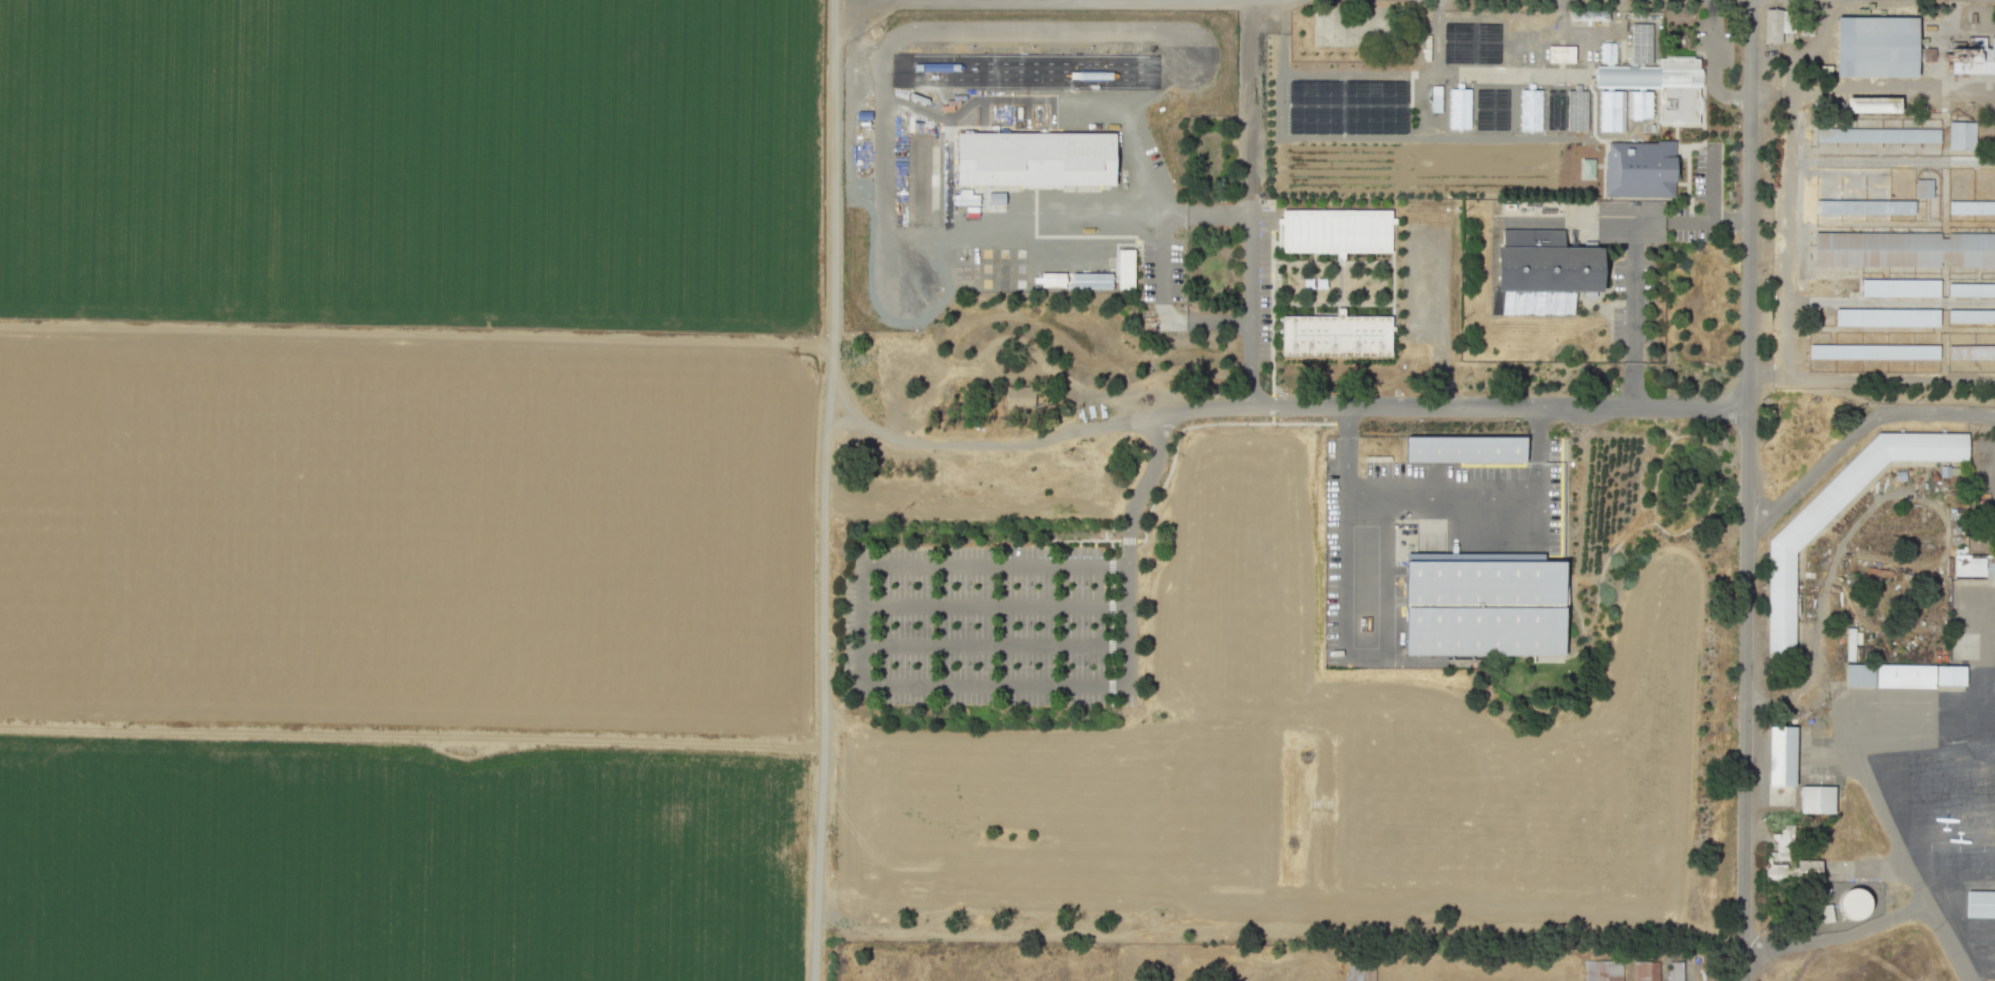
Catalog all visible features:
road: (888, 1)
road: (1017, 2)
building: (1591, 16)
building: (1772, 25)
road: (914, 30)
building: (1644, 43)
road: (860, 46)
building: (1876, 47)
building: (1611, 51)
building: (1536, 53)
building: (1926, 53)
building: (1564, 54)
building: (1973, 57)
road: (1711, 63)
street lamp: (1721, 70)
building: (1629, 77)
road: (1891, 89)
building: (1680, 92)
building: (1435, 98)
building: (1644, 103)
building: (1872, 104)
street lamp: (1728, 105)
road: (1247, 108)
building: (1462, 109)
building: (1533, 109)
building: (1580, 109)
building: (1613, 110)
building: (1877, 135)
building: (1960, 135)
street lamp: (1702, 147)
building: (1038, 160)
road: (1837, 161)
building: (1587, 168)
building: (1642, 168)
street lamp: (1723, 175)
road: (1712, 184)
building: (1923, 188)
building: (1863, 207)
building: (1971, 207)
road: (1708, 221)
building: (1339, 230)
building: (1904, 249)
road: (1631, 253)
road: (1332, 261)
building: (1125, 268)
building: (1546, 269)
road: (1788, 269)
road: (1244, 270)
parking lot: (1162, 271)
building: (1048, 279)
building: (1091, 280)
parking lot: (1262, 285)
building: (1899, 287)
building: (1971, 290)
parking lot: (1634, 300)
road: (1891, 302)
road: (1332, 303)
road: (1163, 306)
road: (1272, 312)
building: (1971, 316)
building: (1886, 317)
building: (1338, 336)
road: (416, 338)
building: (1873, 351)
building: (1971, 351)
road: (1870, 377)
building: (1019, 396)
road: (1272, 405)
road: (1452, 407)
road: (1272, 419)
road: (1193, 425)
road: (1857, 432)
road: (982, 444)
road: (1348, 447)
road: (1536, 448)
building: (1468, 449)
parking lot: (1987, 485)
road: (1442, 488)
road: (1140, 489)
road: (822, 490)
road: (1747, 490)
road: (1127, 541)
building: (1783, 545)
road: (933, 565)
building: (1971, 565)
road: (1363, 568)
street lamp: (902, 585)
street lamp: (964, 585)
street lamp: (1025, 585)
street lamp: (1080, 585)
road: (993, 605)
building: (1484, 608)
parking lot: (989, 624)
street lamp: (902, 625)
street lamp: (1025, 625)
street lamp: (1080, 625)
road: (1126, 625)
street lamp: (964, 626)
building: (1849, 644)
road: (993, 646)
street lamp: (901, 665)
street lamp: (963, 665)
street lamp: (1024, 665)
street lamp: (1079, 665)
building: (1859, 675)
building: (1950, 675)
building: (1904, 676)
road: (993, 685)
airport: (1874, 690)
road: (409, 733)
building: (1780, 755)
airport apron: (1929, 771)
road: (1868, 788)
building: (1816, 799)
building: (1778, 853)
building: (1808, 870)
road: (1888, 870)
building: (1980, 903)
building: (1853, 904)
storage tank: (1853, 904)
building: (1826, 913)
road: (1836, 937)
building: (1603, 970)
building: (1360, 971)
building: (1645, 971)
building: (1675, 971)
airport taxiway: (1968, 980)

